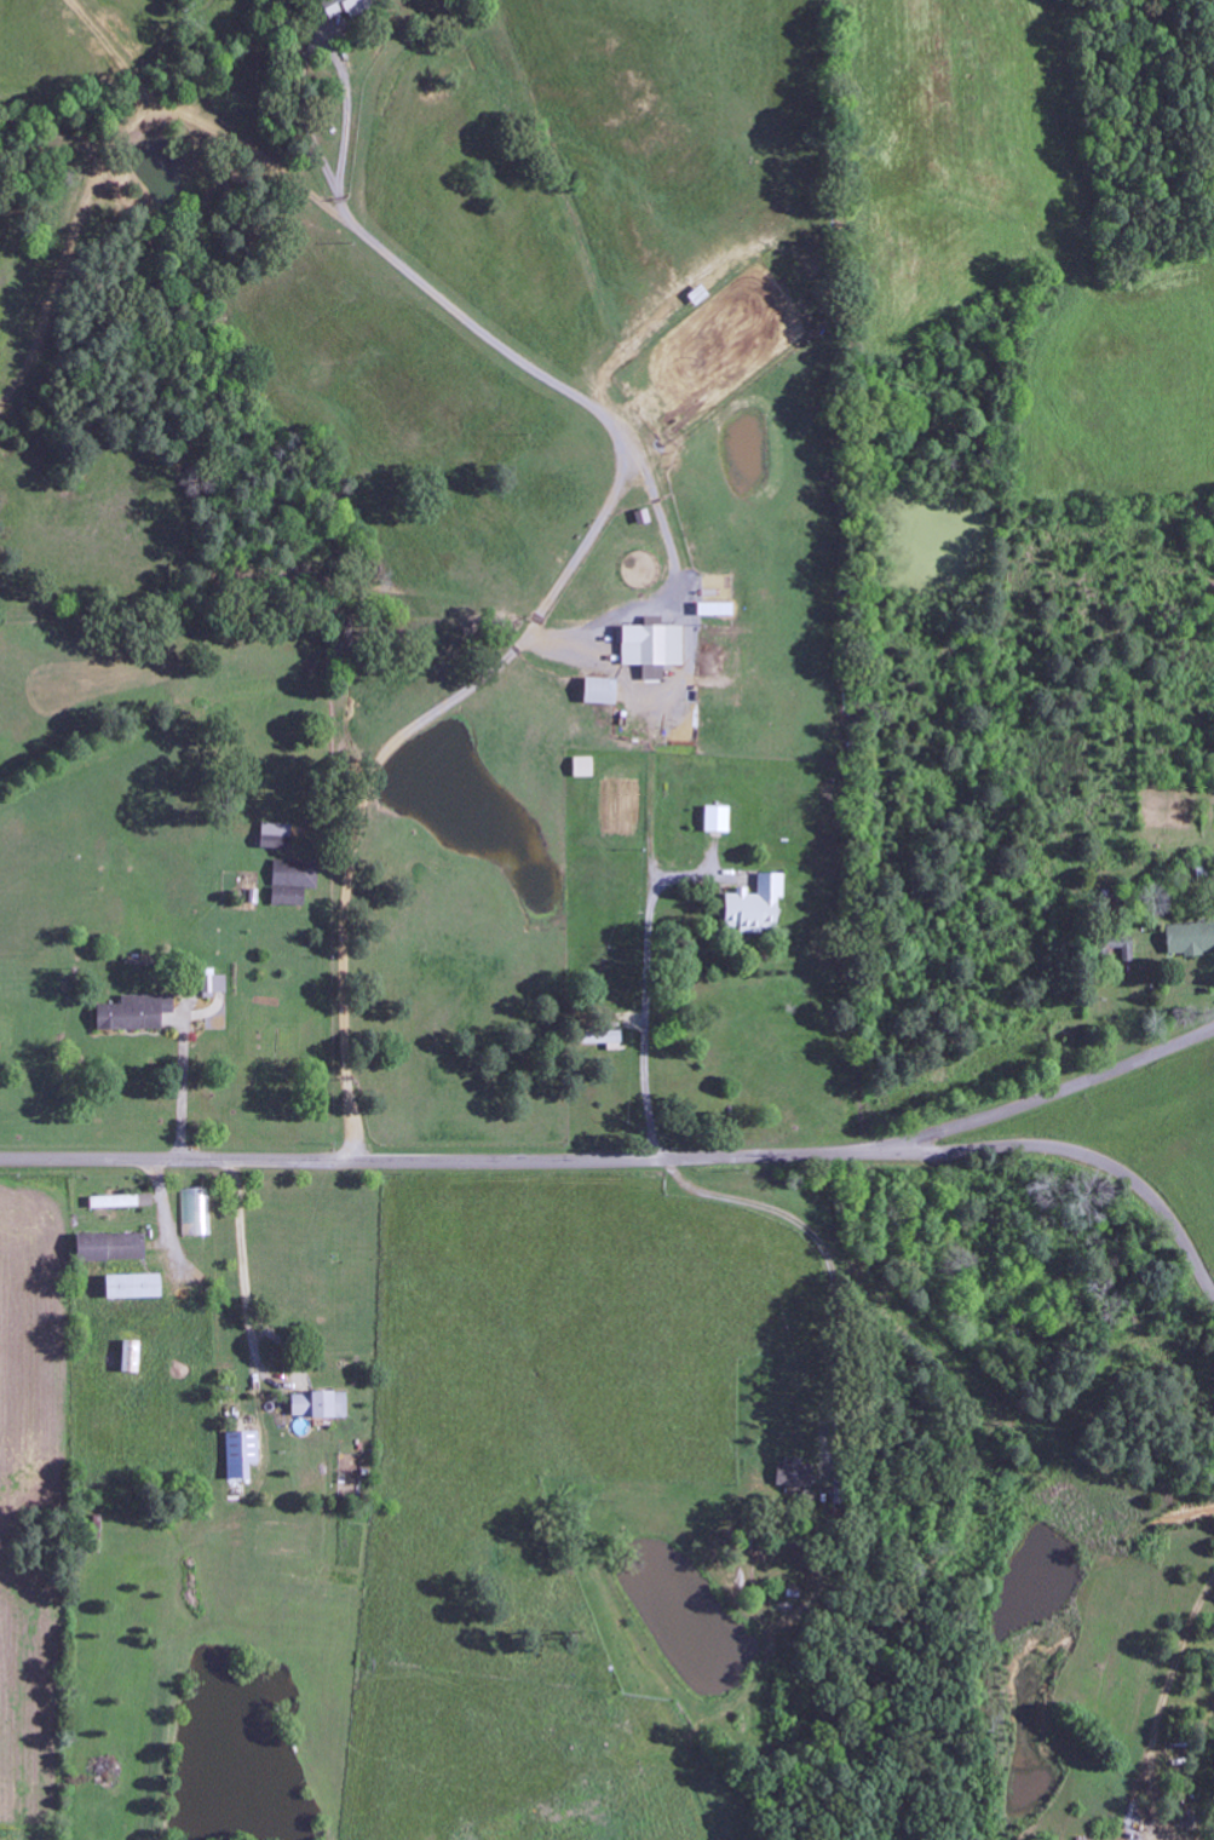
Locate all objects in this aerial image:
building: (352, 6)
building: (655, 646)
building: (606, 691)
building: (586, 767)
building: (713, 820)
building: (281, 836)
building: (294, 882)
building: (750, 905)
building: (1187, 938)
building: (1117, 948)
building: (139, 1012)
building: (598, 1037)
road: (1036, 1100)
road: (640, 1157)
building: (110, 1202)
building: (196, 1213)
building: (113, 1247)
building: (140, 1287)
building: (323, 1404)
building: (243, 1455)
building: (790, 1473)
road: (1184, 1537)

